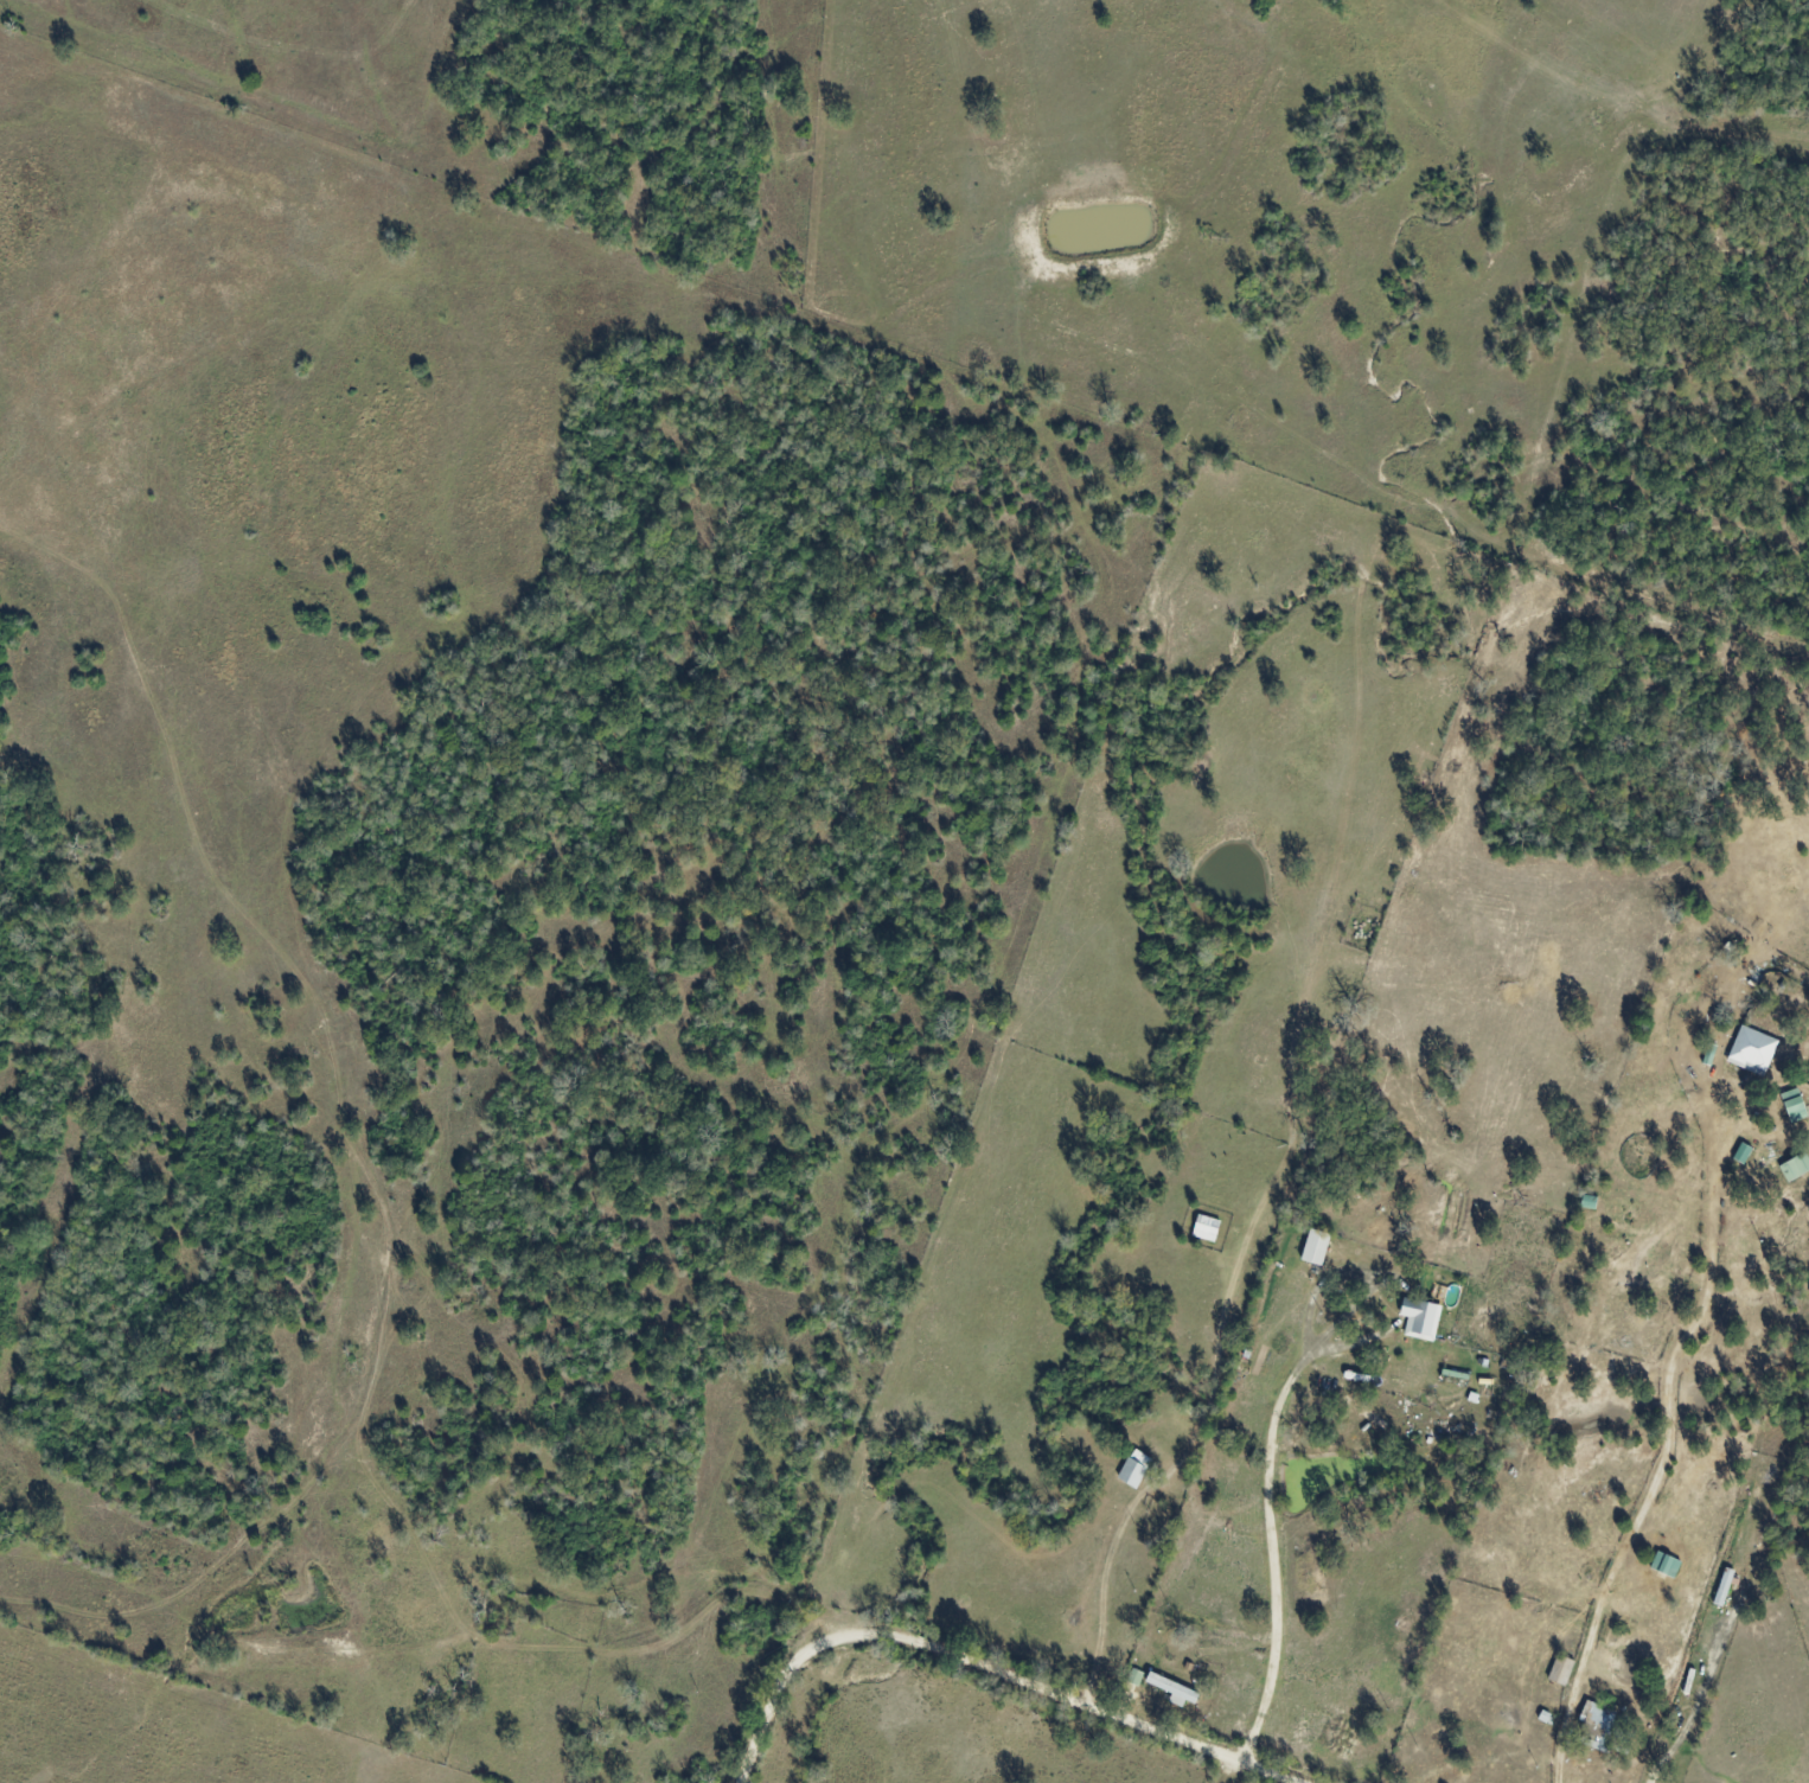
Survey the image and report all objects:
building: (1754, 1050)
building: (1796, 1167)
building: (1208, 1228)
building: (1318, 1247)
building: (1423, 1318)
building: (1137, 1469)
road: (980, 1666)
building: (1562, 1670)
building: (1175, 1689)
building: (1598, 1720)

